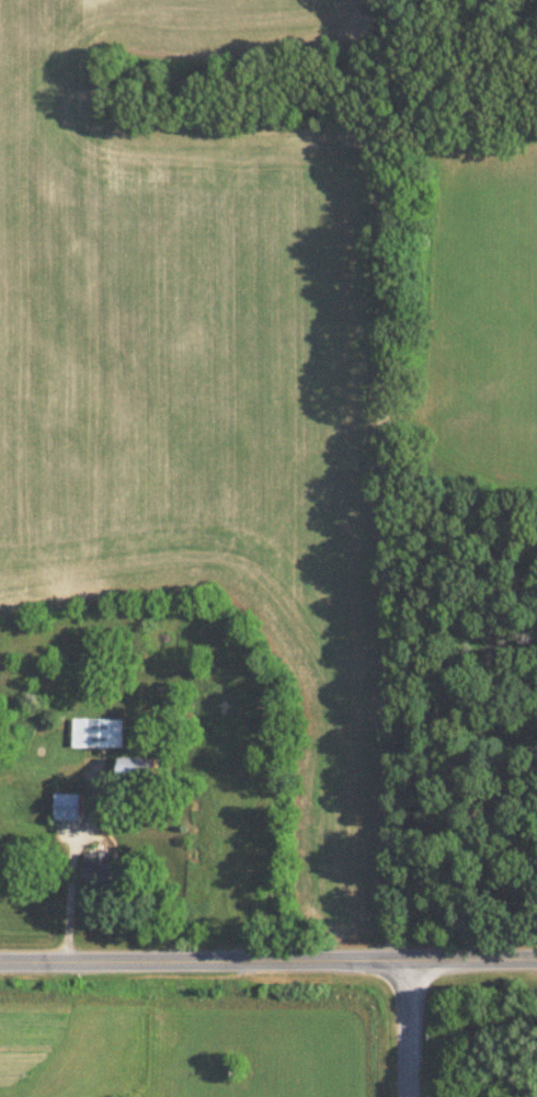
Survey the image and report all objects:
building: (98, 734)
building: (141, 774)
building: (69, 808)
building: (104, 875)
road: (69, 894)
road: (267, 960)
road: (407, 1028)

